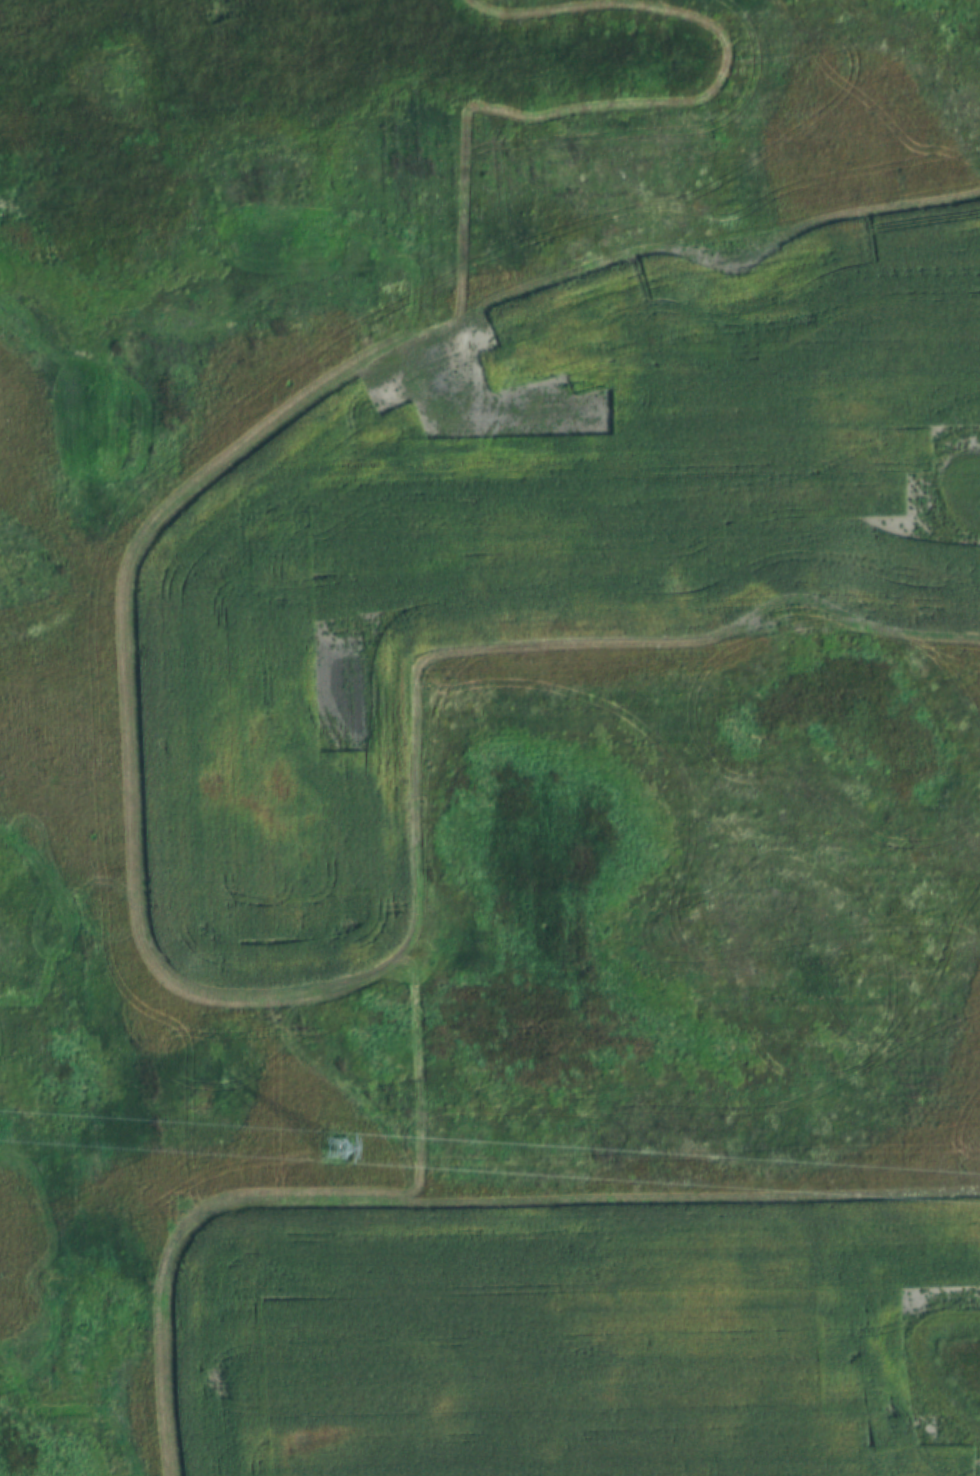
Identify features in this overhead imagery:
power tower: (332, 1148)

